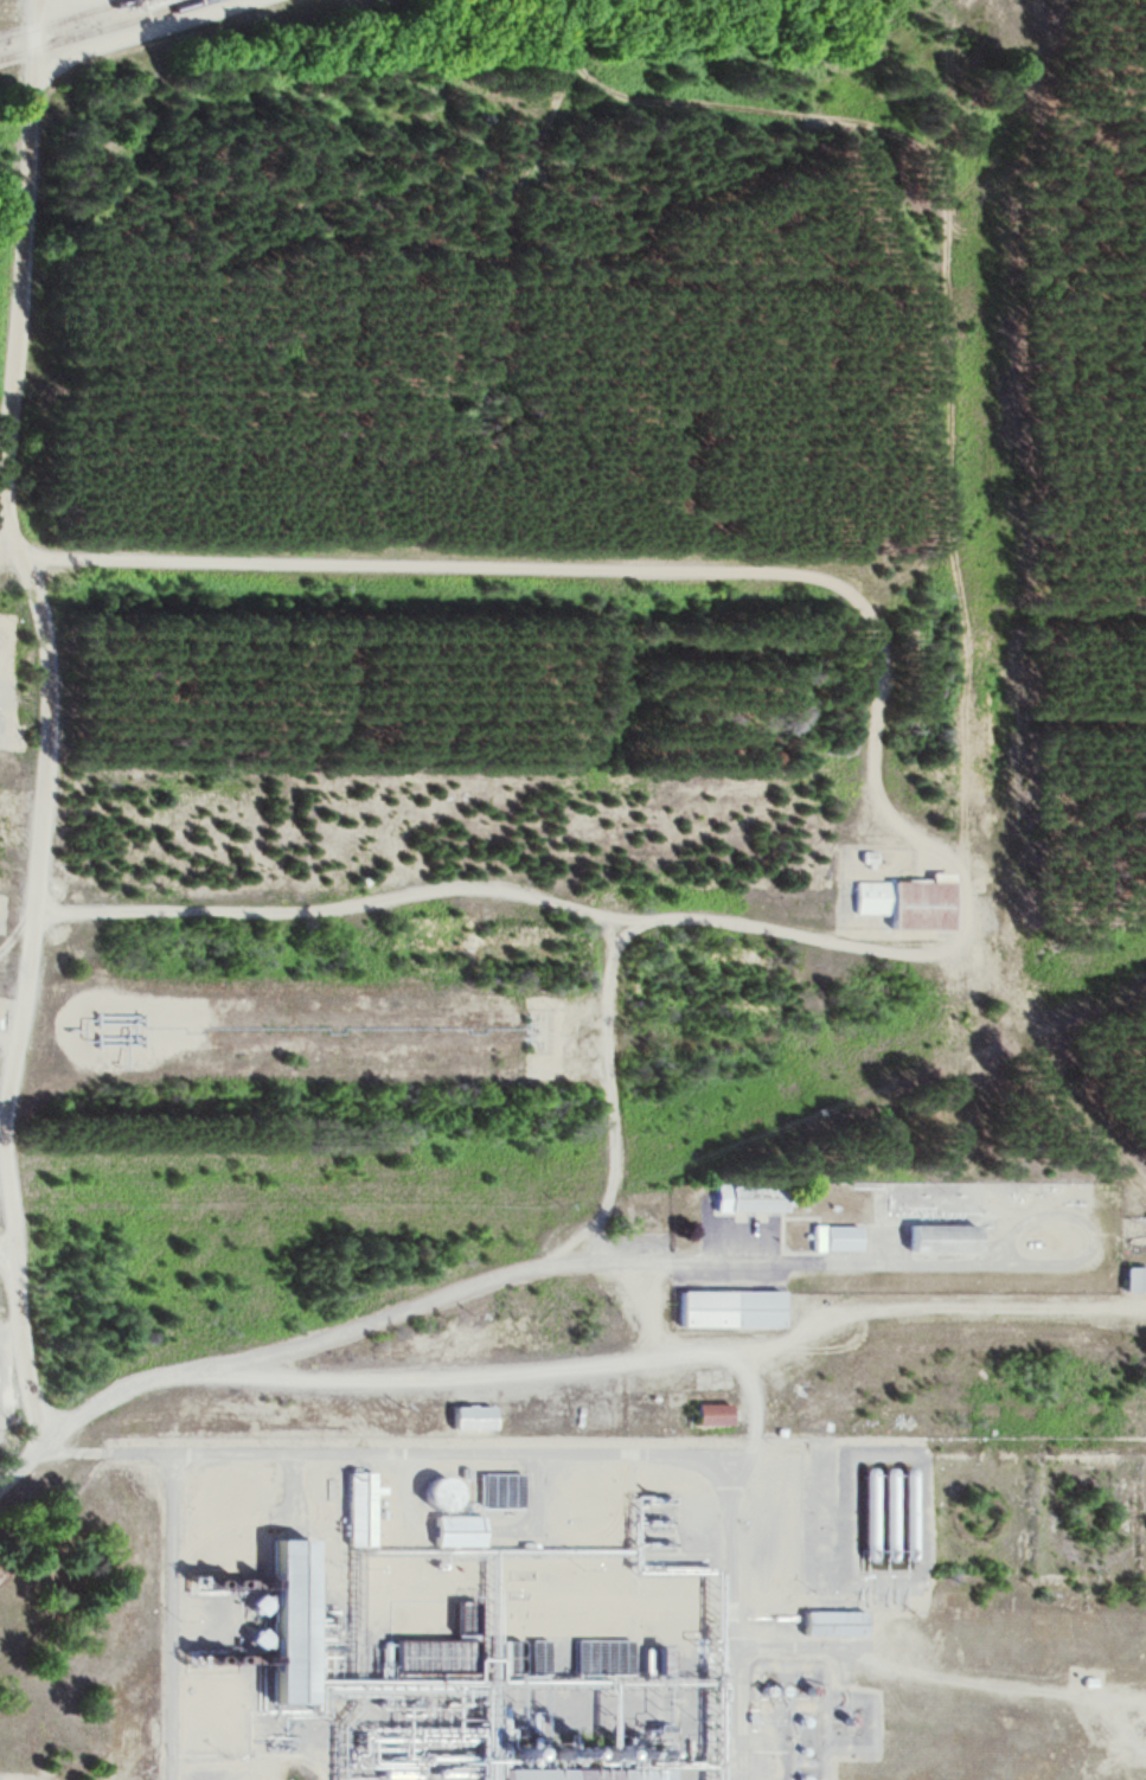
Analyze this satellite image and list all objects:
railway: (66, 19)
railway: (105, 31)
road: (386, 571)
building: (907, 904)
building: (114, 1032)
building: (744, 1199)
building: (937, 1238)
building: (833, 1240)
building: (1133, 1280)
building: (728, 1310)
road: (292, 1376)
building: (710, 1415)
building: (468, 1419)
building: (498, 1491)
building: (435, 1496)
building: (357, 1509)
building: (865, 1509)
building: (892, 1512)
building: (453, 1532)
building: (283, 1622)
building: (831, 1624)
building: (412, 1665)
building: (529, 1775)

